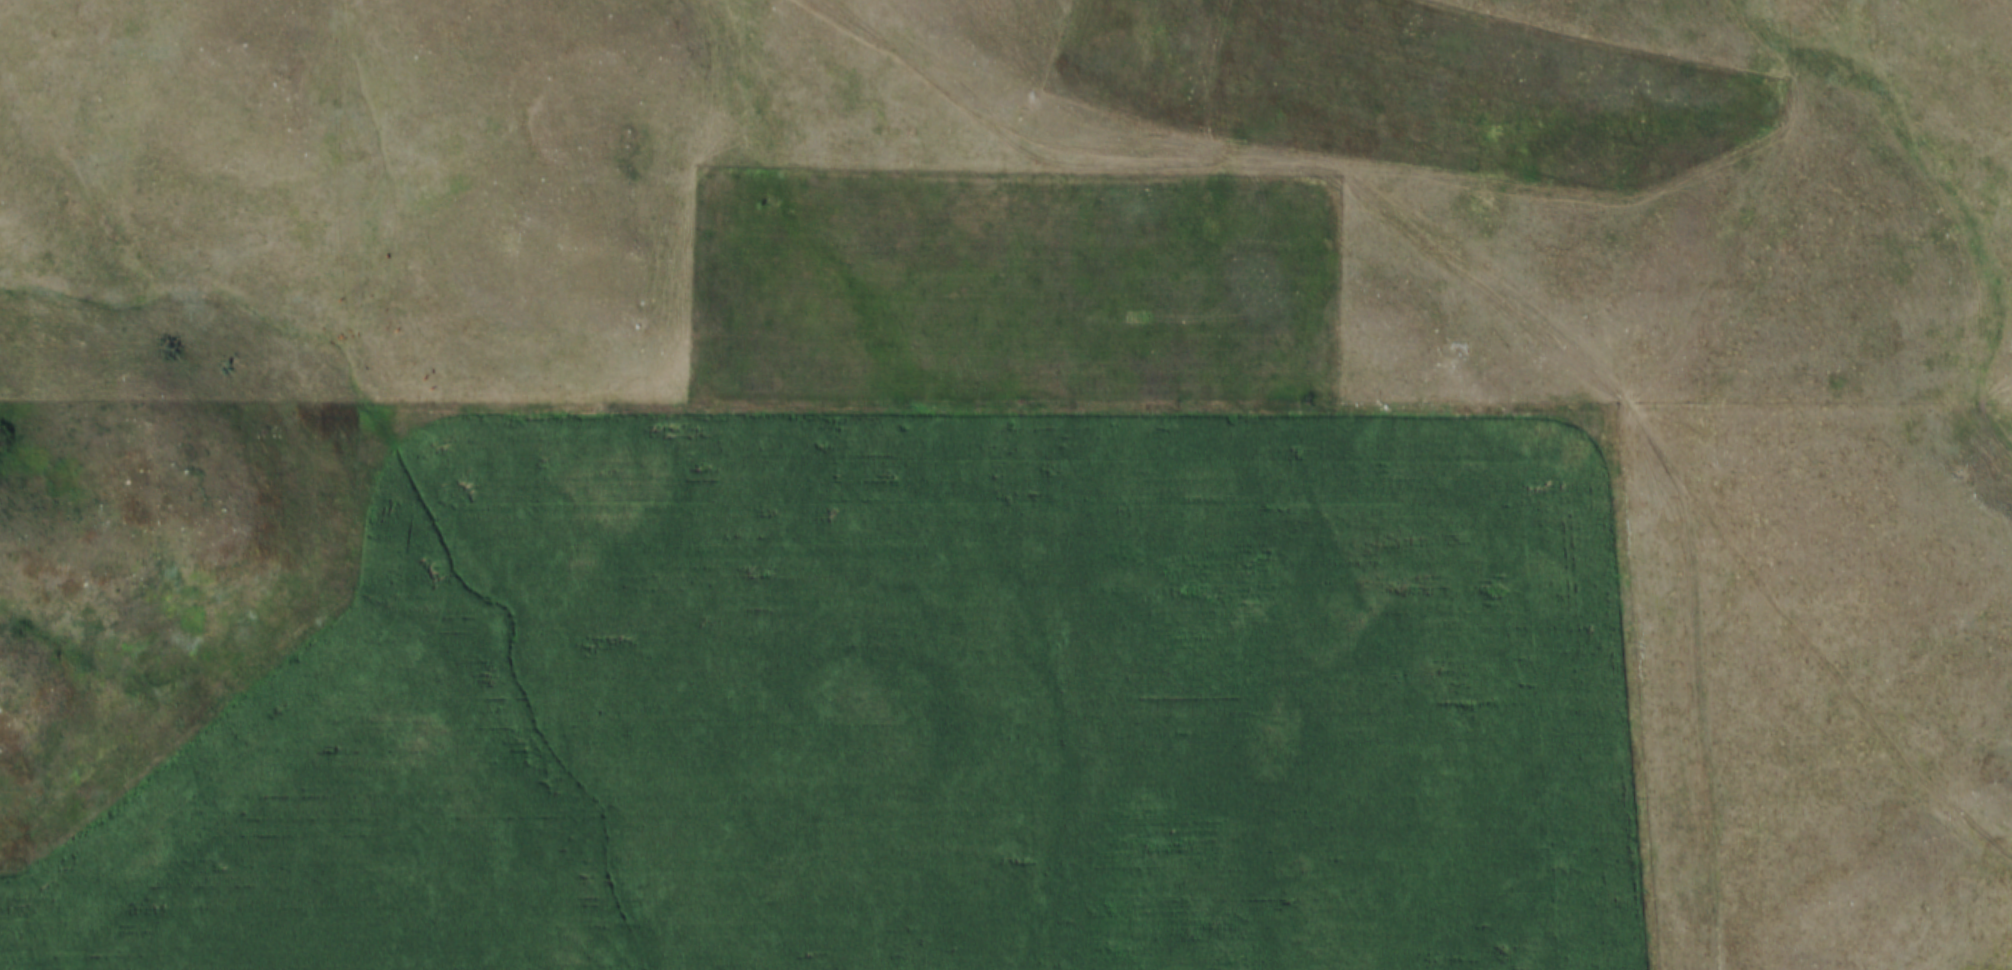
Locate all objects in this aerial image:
road: (1501, 276)

